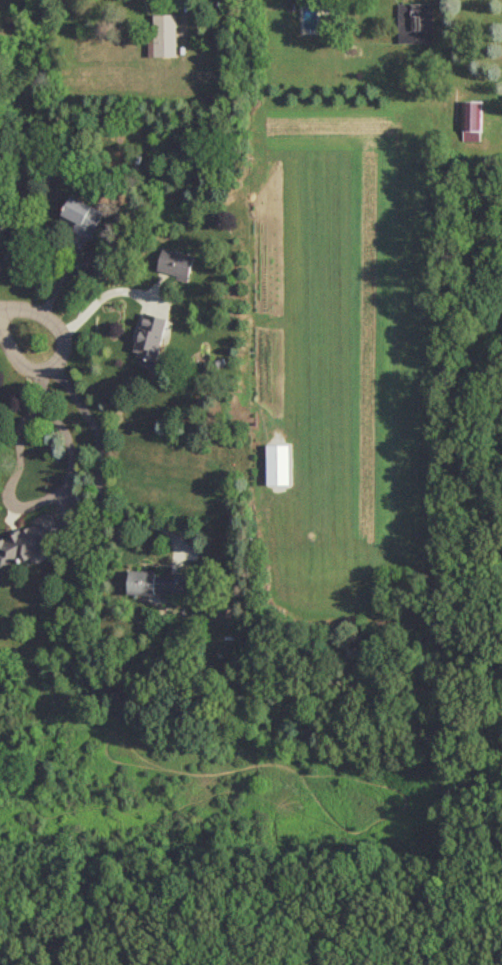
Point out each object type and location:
road: (2, 5)
road: (181, 18)
building: (164, 35)
building: (83, 215)
building: (176, 262)
road: (55, 285)
road: (97, 301)
road: (18, 320)
building: (151, 339)
road: (57, 421)
road: (98, 463)
building: (29, 541)
building: (159, 581)

